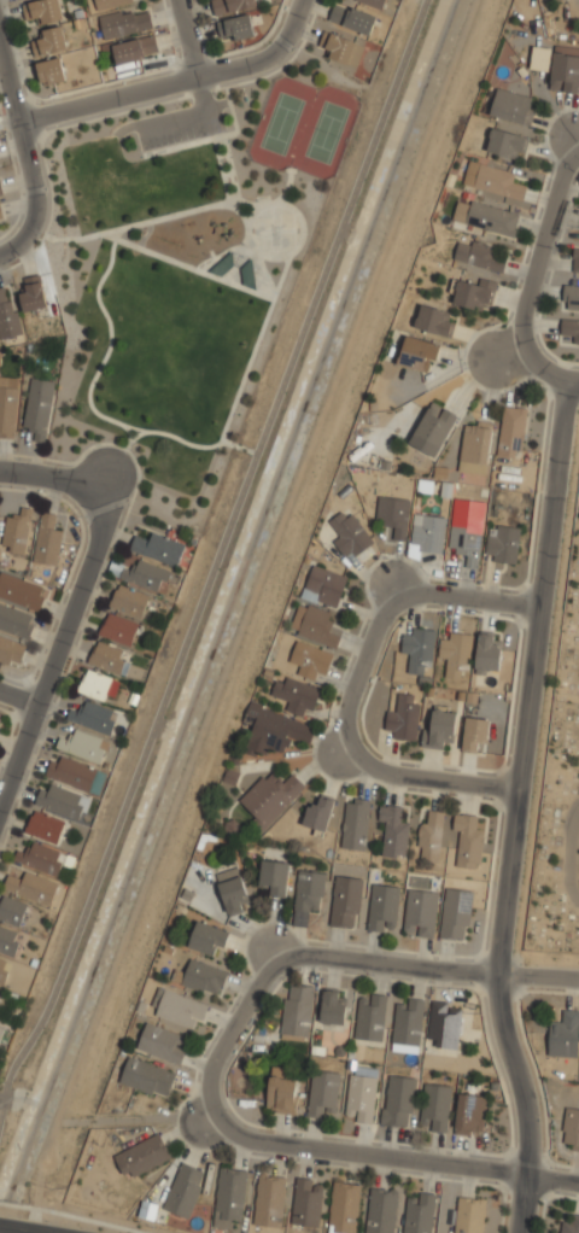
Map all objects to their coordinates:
building: (110, 2)
building: (373, 2)
building: (232, 5)
building: (42, 11)
building: (351, 18)
building: (125, 21)
building: (238, 27)
road: (189, 37)
building: (49, 40)
building: (135, 47)
building: (344, 48)
road: (282, 62)
building: (565, 69)
building: (52, 70)
road: (176, 81)
road: (227, 84)
building: (511, 106)
road: (192, 113)
road: (65, 124)
park: (303, 125)
parking lot: (181, 132)
road: (211, 136)
road: (23, 139)
road: (577, 139)
building: (505, 144)
building: (492, 180)
road: (286, 186)
building: (0, 189)
road: (242, 199)
road: (209, 205)
road: (294, 208)
road: (239, 211)
building: (1, 216)
building: (485, 217)
park: (275, 228)
road: (13, 245)
building: (478, 255)
building: (575, 258)
road: (14, 263)
park: (183, 267)
road: (534, 268)
road: (264, 273)
road: (282, 274)
building: (33, 291)
road: (264, 293)
building: (474, 293)
building: (571, 297)
building: (7, 314)
road: (105, 316)
building: (433, 321)
building: (569, 331)
road: (509, 350)
building: (417, 353)
road: (573, 380)
building: (7, 405)
building: (37, 415)
building: (433, 428)
building: (511, 432)
road: (138, 434)
road: (188, 442)
building: (475, 448)
road: (51, 474)
building: (393, 515)
building: (467, 530)
building: (17, 531)
building: (347, 533)
building: (426, 534)
building: (47, 540)
building: (502, 543)
building: (158, 548)
road: (215, 560)
building: (141, 573)
road: (98, 586)
building: (323, 586)
building: (21, 590)
building: (129, 601)
building: (16, 621)
building: (315, 624)
building: (119, 629)
road: (62, 648)
building: (419, 649)
building: (487, 650)
building: (11, 651)
building: (455, 651)
building: (109, 658)
building: (311, 660)
road: (356, 682)
building: (95, 685)
building: (296, 695)
road: (21, 697)
building: (94, 717)
building: (403, 718)
building: (441, 727)
building: (276, 730)
building: (474, 734)
building: (82, 744)
building: (71, 773)
park: (561, 790)
building: (270, 796)
building: (62, 801)
road: (514, 807)
building: (318, 813)
building: (357, 824)
building: (45, 826)
building: (394, 829)
building: (431, 834)
building: (468, 840)
road: (568, 852)
building: (35, 872)
building: (274, 877)
building: (233, 892)
building: (308, 895)
building: (346, 901)
building: (384, 906)
building: (11, 908)
building: (420, 912)
building: (457, 913)
building: (209, 939)
building: (8, 940)
road: (444, 968)
building: (4, 970)
building: (204, 977)
building: (332, 1006)
building: (177, 1007)
building: (297, 1012)
building: (370, 1018)
building: (444, 1024)
building: (407, 1025)
building: (1, 1030)
building: (565, 1034)
road: (224, 1039)
building: (162, 1042)
building: (147, 1076)
road: (4, 1080)
building: (280, 1091)
building: (322, 1093)
building: (362, 1093)
road: (1, 1098)
building: (398, 1101)
building: (434, 1106)
building: (469, 1114)
road: (157, 1118)
building: (571, 1128)
building: (142, 1156)
road: (415, 1162)
building: (183, 1191)
building: (229, 1197)
building: (269, 1200)
building: (306, 1203)
building: (344, 1206)
building: (381, 1210)
building: (419, 1214)
building: (468, 1215)
building: (571, 1225)
road: (24, 1228)

